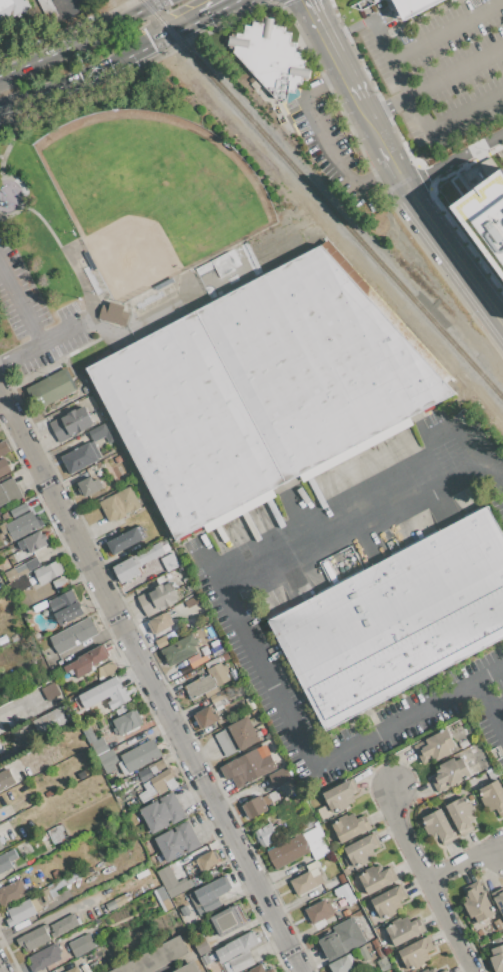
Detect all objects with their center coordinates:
building: (361, 3)
road: (65, 5)
building: (410, 6)
building: (10, 8)
building: (47, 9)
road: (216, 10)
road: (347, 29)
road: (380, 38)
road: (427, 38)
road: (80, 40)
road: (330, 51)
building: (269, 56)
road: (100, 68)
parking lot: (441, 68)
road: (433, 82)
road: (447, 115)
road: (367, 123)
road: (325, 140)
road: (498, 146)
parking lot: (328, 147)
road: (453, 160)
road: (391, 166)
building: (487, 166)
park: (151, 195)
railway: (322, 200)
building: (485, 217)
road: (456, 245)
road: (450, 265)
park: (226, 271)
road: (20, 309)
building: (113, 313)
road: (37, 344)
building: (318, 361)
building: (51, 387)
building: (85, 389)
building: (71, 423)
building: (185, 424)
building: (101, 432)
road: (458, 433)
building: (3, 447)
building: (79, 457)
building: (4, 467)
road: (431, 468)
road: (497, 474)
building: (89, 486)
building: (9, 491)
building: (33, 501)
building: (120, 504)
building: (19, 510)
building: (4, 516)
building: (21, 525)
building: (125, 541)
building: (33, 542)
building: (169, 549)
building: (158, 552)
building: (146, 557)
building: (170, 562)
building: (6, 563)
building: (22, 568)
building: (127, 569)
building: (49, 571)
building: (161, 579)
building: (60, 582)
building: (18, 585)
building: (157, 598)
building: (192, 601)
building: (65, 607)
building: (397, 619)
building: (160, 621)
building: (73, 635)
building: (162, 641)
road: (248, 641)
building: (212, 643)
building: (180, 650)
building: (216, 650)
building: (226, 656)
building: (193, 659)
building: (86, 661)
building: (211, 662)
building: (192, 665)
building: (106, 670)
building: (233, 672)
building: (218, 674)
road: (151, 679)
building: (199, 686)
building: (50, 692)
building: (212, 692)
building: (104, 694)
building: (218, 697)
road: (496, 710)
road: (487, 712)
building: (206, 717)
building: (53, 720)
building: (125, 722)
building: (244, 733)
building: (93, 739)
building: (226, 742)
building: (464, 743)
building: (434, 746)
building: (139, 756)
building: (108, 761)
building: (248, 765)
building: (492, 773)
building: (449, 774)
building: (362, 776)
building: (281, 777)
building: (5, 780)
building: (157, 781)
building: (24, 785)
building: (119, 786)
building: (340, 796)
building: (492, 796)
building: (272, 797)
building: (255, 807)
building: (324, 811)
building: (162, 812)
building: (461, 815)
building: (307, 823)
building: (350, 826)
building: (439, 826)
building: (266, 835)
building: (41, 840)
building: (177, 841)
building: (1, 845)
building: (298, 847)
building: (362, 850)
building: (7, 860)
building: (207, 860)
road: (462, 860)
building: (346, 871)
building: (377, 877)
building: (341, 878)
building: (307, 879)
building: (64, 881)
building: (172, 881)
road: (426, 881)
building: (119, 883)
building: (328, 886)
building: (213, 889)
building: (13, 891)
building: (345, 893)
building: (162, 894)
building: (498, 899)
building: (118, 901)
building: (389, 901)
building: (341, 902)
building: (477, 902)
building: (193, 904)
building: (23, 911)
building: (319, 911)
building: (346, 912)
building: (371, 913)
building: (84, 915)
road: (51, 917)
building: (189, 918)
building: (228, 919)
building: (498, 924)
building: (63, 925)
building: (364, 928)
building: (403, 929)
building: (479, 932)
building: (369, 934)
building: (33, 938)
building: (341, 938)
building: (375, 943)
building: (82, 945)
building: (201, 946)
building: (236, 947)
building: (379, 951)
building: (364, 952)
building: (415, 953)
building: (44, 957)
building: (155, 957)
building: (496, 958)
building: (95, 959)
building: (241, 961)
building: (382, 962)
building: (82, 963)
building: (341, 964)
building: (188, 968)
building: (72, 969)
building: (260, 969)
road: (0, 970)
building: (430, 970)
road: (164, 971)
building: (440, 971)

